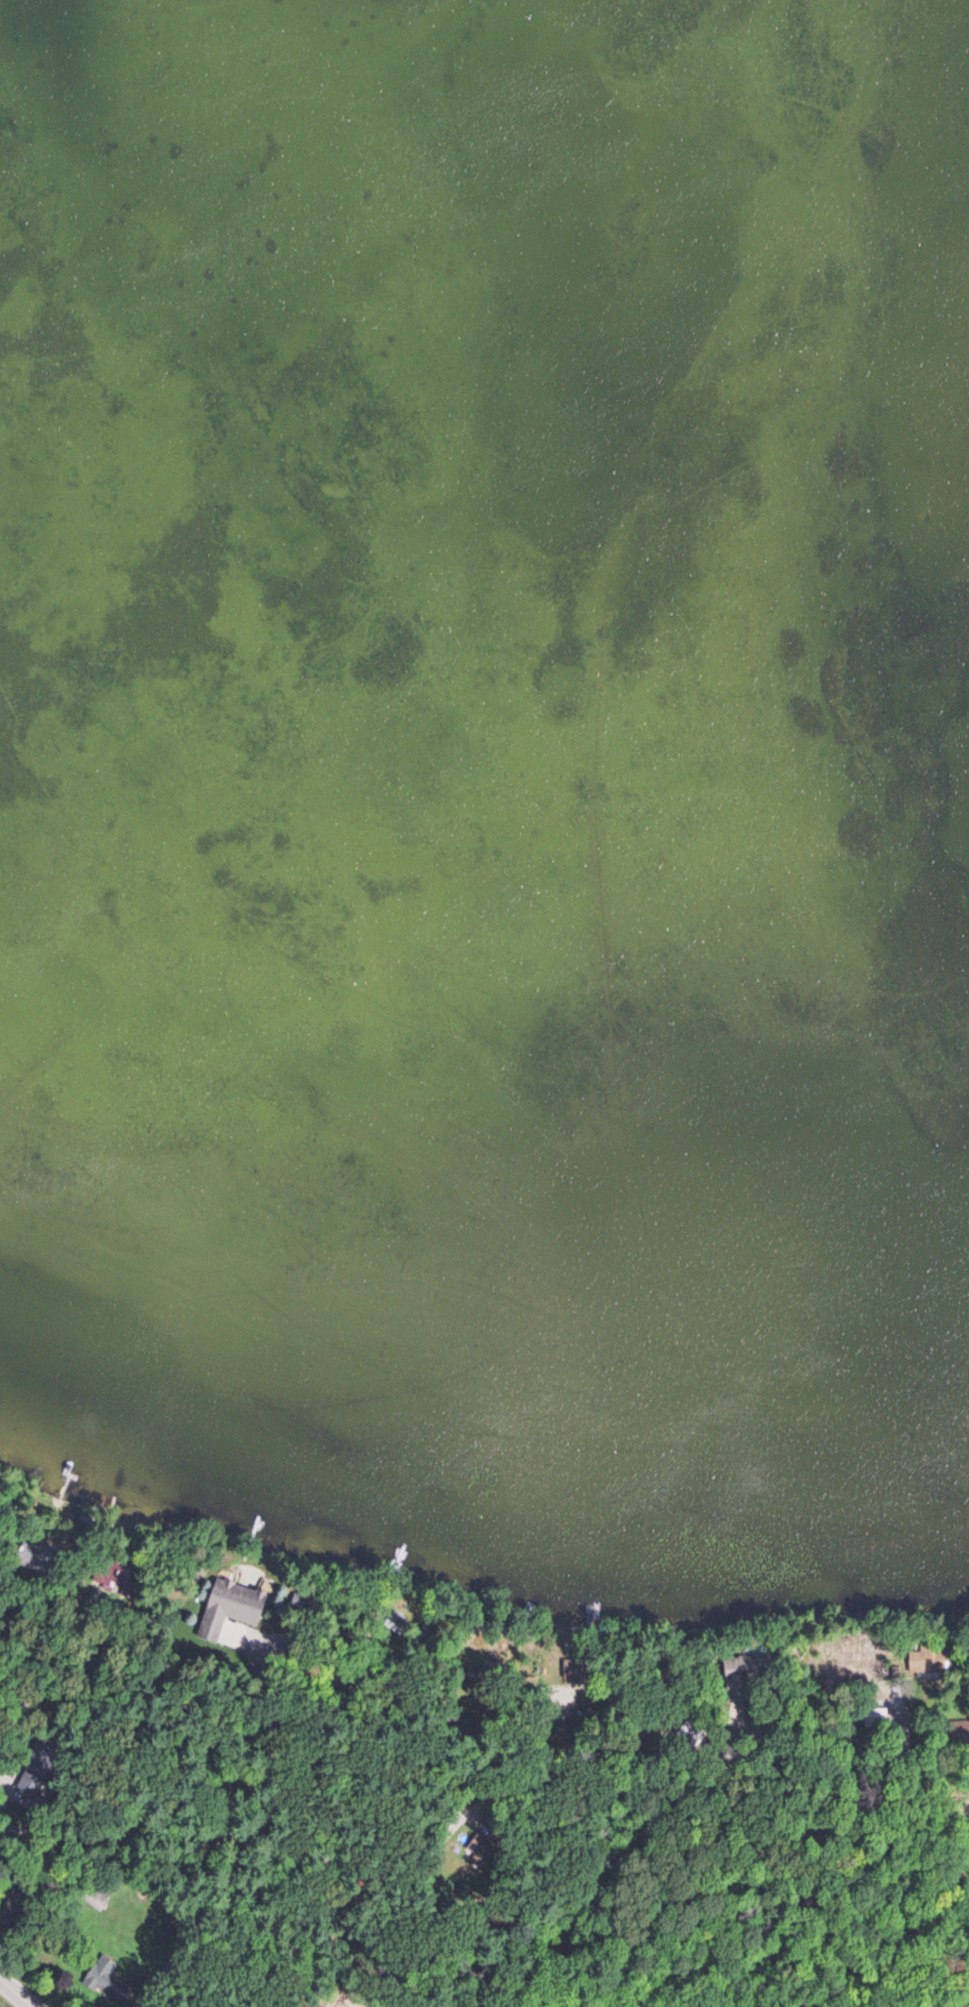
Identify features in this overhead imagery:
building: (233, 1608)
road: (507, 1772)
road: (656, 1832)
road: (226, 1847)
road: (836, 1857)
road: (399, 1913)
road: (21, 1989)
road: (955, 1993)

